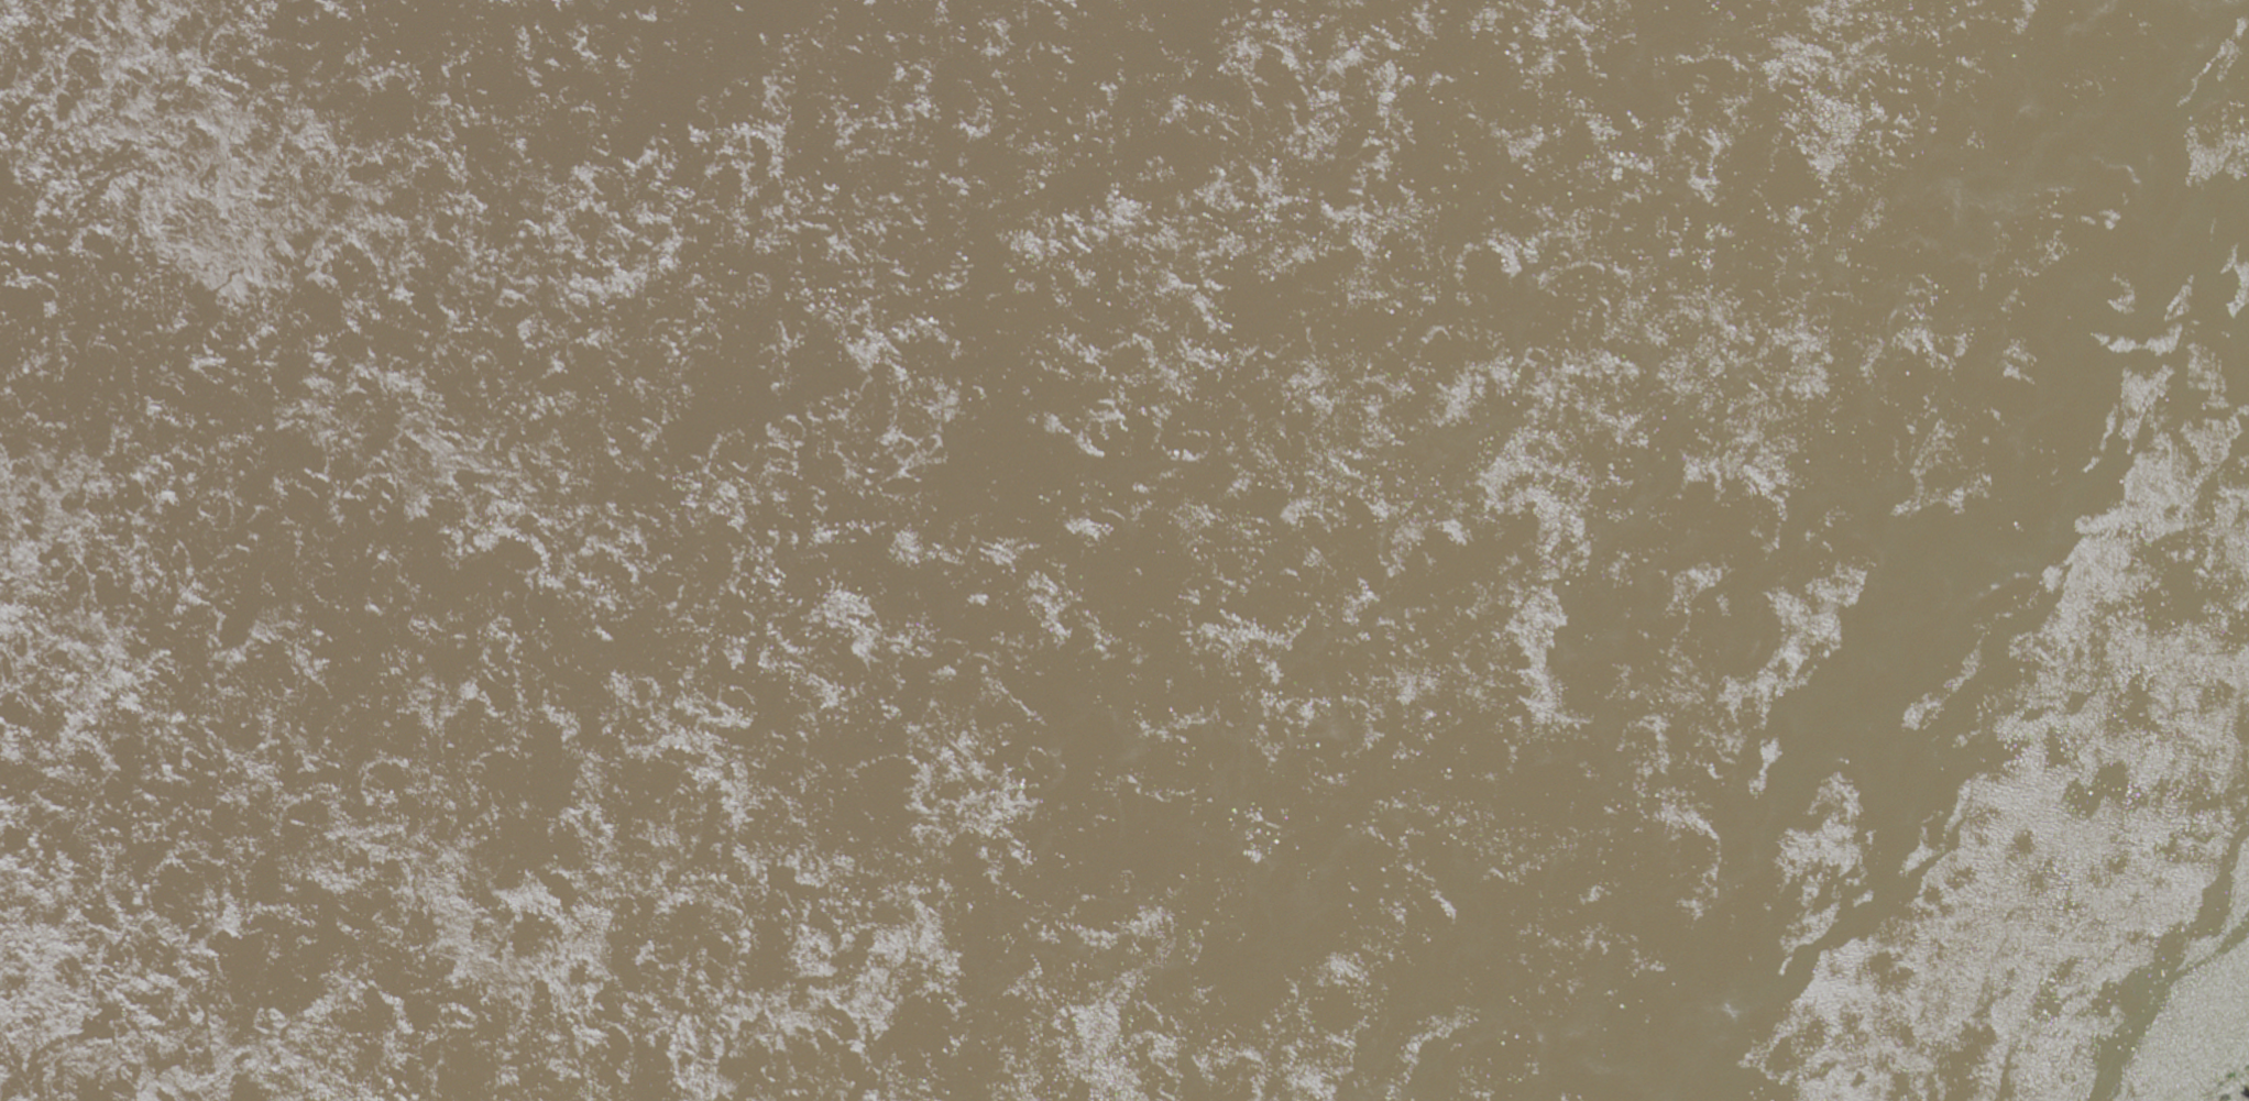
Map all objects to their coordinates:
river: (475, 407)

